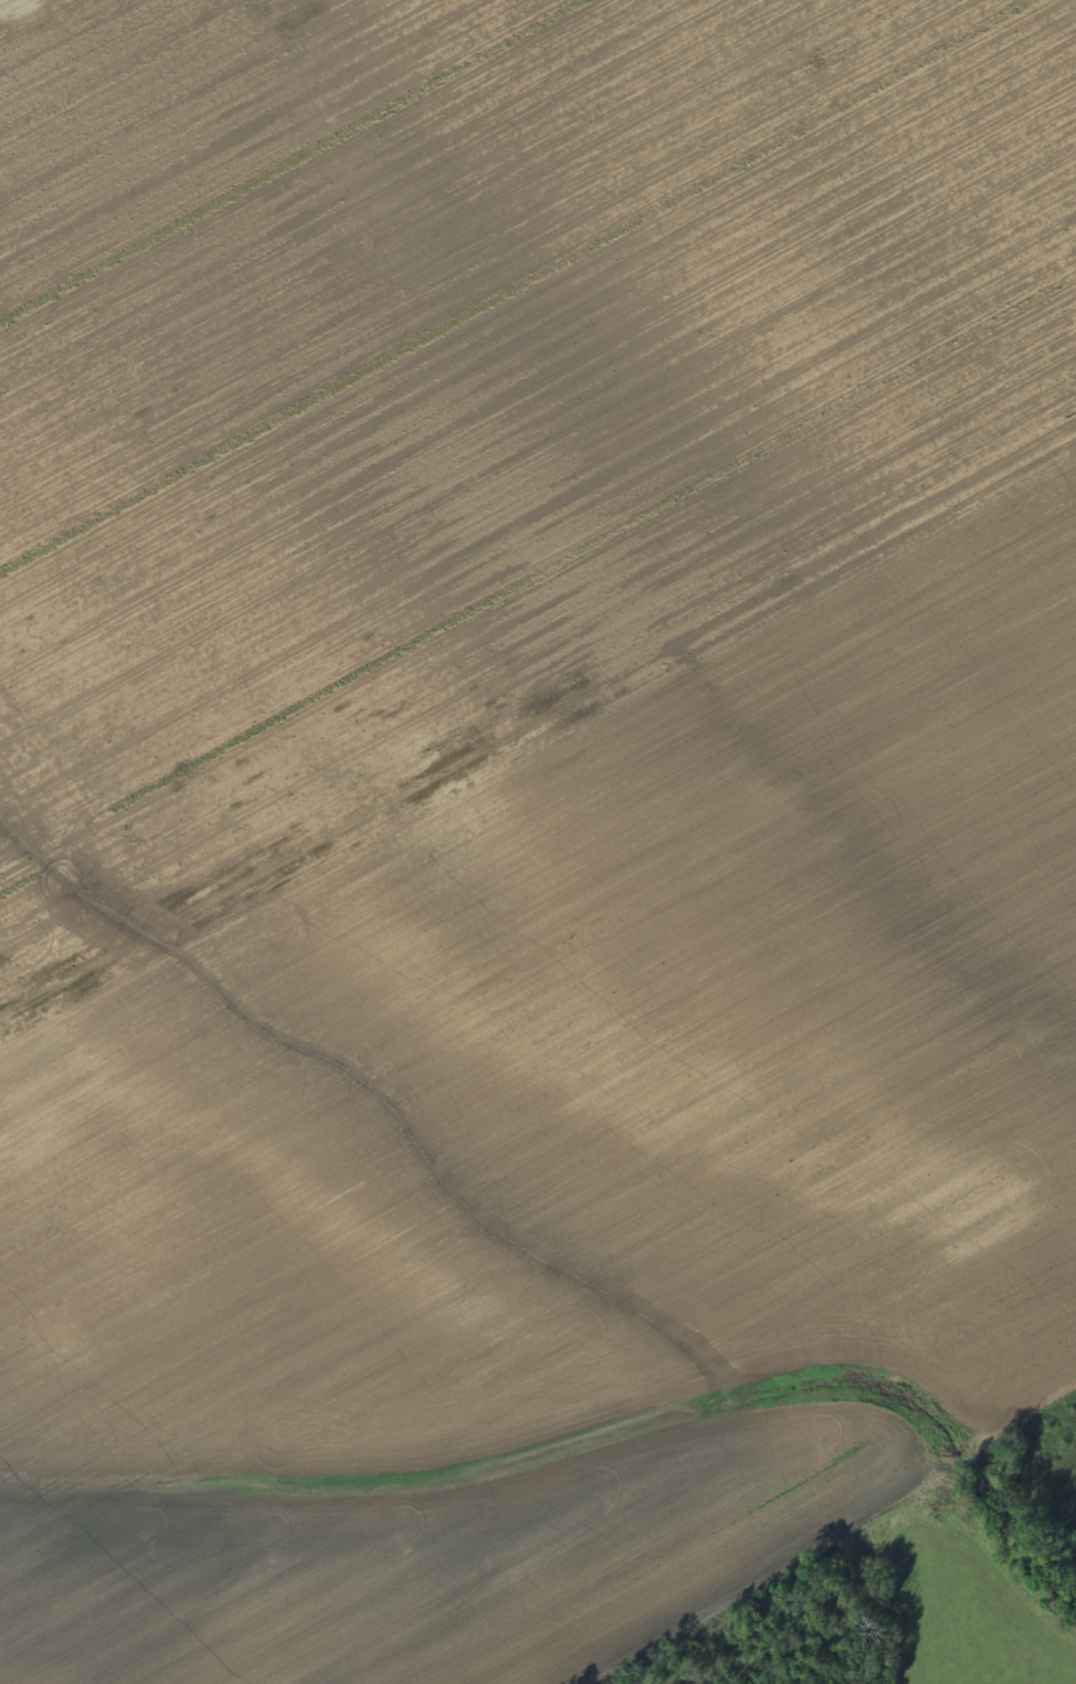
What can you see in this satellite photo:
road: (7, 3)
power tower: (292, 11)

